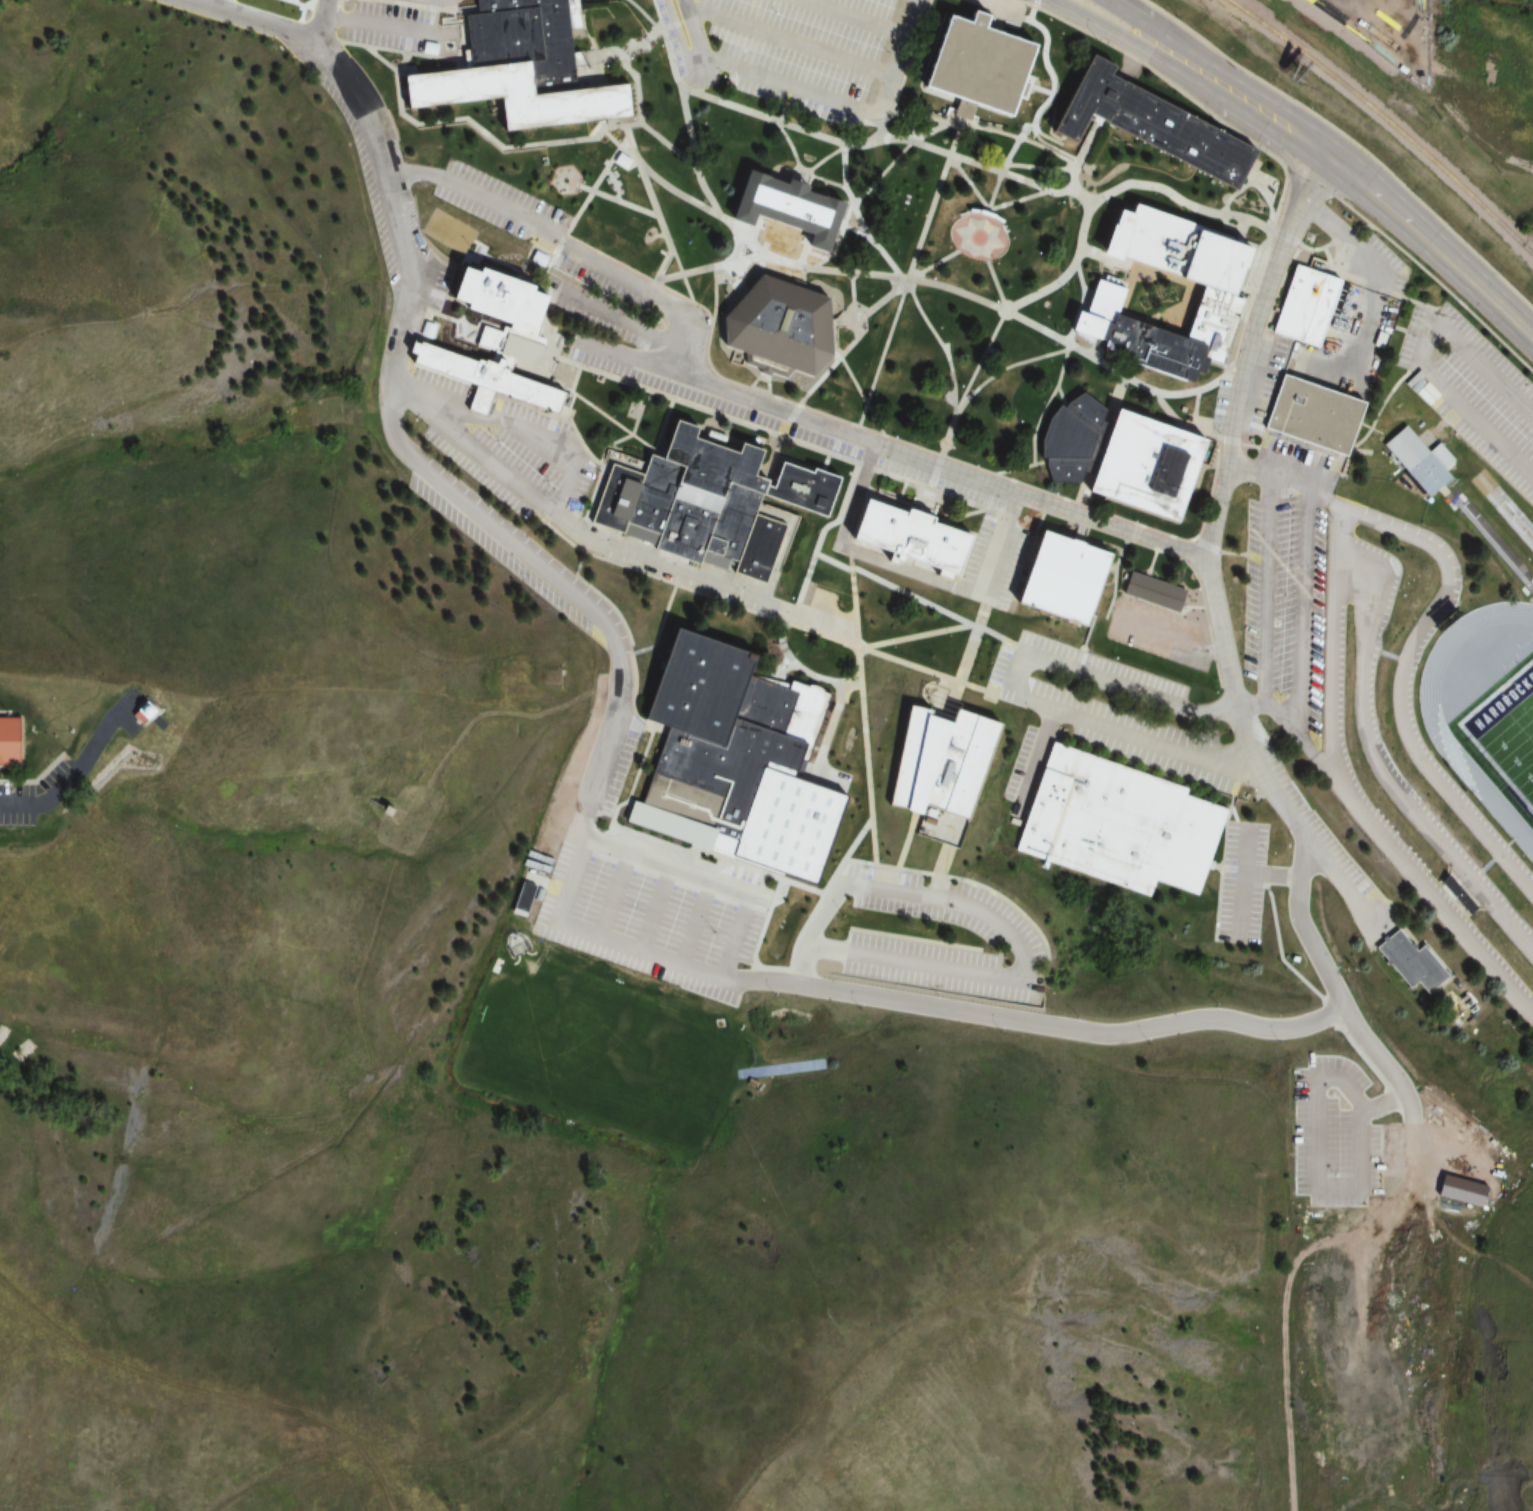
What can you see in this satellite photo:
parking lot: (923, 1)
road: (340, 2)
road: (301, 3)
road: (325, 4)
road: (426, 4)
road: (1033, 4)
road: (220, 5)
road: (303, 7)
road: (990, 7)
parking lot: (992, 7)
road: (1030, 13)
road: (643, 16)
road: (859, 16)
road: (252, 20)
road: (320, 22)
road: (390, 28)
road: (694, 28)
parking lot: (402, 32)
road: (674, 33)
road: (1176, 38)
building: (519, 40)
road: (791, 42)
parking lot: (803, 46)
road: (1139, 47)
road: (400, 51)
road: (382, 59)
building: (981, 63)
road: (701, 74)
road: (1053, 82)
road: (1036, 86)
building: (509, 96)
road: (637, 99)
road: (847, 106)
building: (1150, 121)
railway: (1383, 123)
road: (1007, 135)
road: (490, 136)
road: (960, 137)
road: (885, 139)
road: (1351, 139)
road: (1013, 142)
road: (1320, 152)
road: (1285, 162)
road: (798, 168)
road: (1013, 168)
road: (883, 173)
road: (804, 174)
road: (655, 178)
road: (595, 187)
road: (1109, 191)
road: (1304, 196)
road: (617, 202)
road: (652, 202)
building: (794, 203)
road: (985, 205)
parking lot: (501, 206)
road: (851, 214)
road: (928, 218)
road: (1278, 233)
road: (1334, 240)
road: (1292, 241)
road: (872, 243)
road: (706, 268)
road: (990, 271)
road: (872, 275)
road: (1374, 277)
road: (801, 279)
road: (1470, 280)
building: (1234, 289)
road: (714, 296)
building: (1310, 300)
road: (852, 310)
road: (683, 314)
road: (858, 315)
road: (864, 316)
building: (490, 317)
road: (620, 320)
building: (775, 328)
road: (882, 354)
road: (635, 358)
road: (979, 362)
road: (948, 364)
road: (1434, 367)
road: (1005, 369)
road: (847, 373)
road: (573, 379)
building: (476, 380)
road: (1195, 389)
road: (1055, 390)
parking lot: (1472, 391)
road: (593, 409)
road: (673, 411)
building: (1317, 411)
road: (788, 421)
parking lot: (807, 428)
road: (512, 430)
road: (915, 445)
parking lot: (503, 446)
building: (1126, 452)
road: (940, 458)
building: (1413, 461)
road: (424, 468)
road: (934, 476)
road: (1267, 480)
road: (927, 489)
road: (846, 499)
building: (709, 504)
road: (1071, 508)
building: (914, 534)
road: (589, 541)
road: (1204, 549)
road: (990, 563)
building: (1066, 576)
parking lot: (1288, 583)
road: (893, 586)
building: (1156, 591)
road: (1266, 593)
track: (1529, 595)
road: (755, 613)
road: (1302, 621)
road: (661, 628)
stadium: (1438, 631)
road: (937, 632)
road: (964, 662)
road: (1404, 665)
road: (780, 679)
road: (821, 682)
road: (348, 683)
road: (1012, 692)
road: (1248, 706)
building: (134, 714)
track: (1437, 732)
park: (1503, 736)
building: (7, 742)
road: (865, 755)
building: (742, 760)
building: (950, 760)
road: (46, 767)
road: (641, 768)
road: (1380, 768)
parking lot: (1179, 772)
road: (68, 779)
road: (16, 782)
parking lot: (610, 787)
road: (1347, 795)
parking lot: (16, 803)
building: (1115, 824)
road: (905, 841)
road: (845, 854)
road: (666, 867)
road: (1275, 874)
road: (1246, 880)
road: (1347, 882)
road: (610, 899)
building: (520, 901)
road: (649, 914)
road: (695, 929)
road: (814, 932)
parking lot: (1008, 936)
road: (735, 937)
building: (1418, 958)
road: (1023, 976)
road: (986, 1014)
building: (1315, 1021)
park: (609, 1046)
building: (1383, 1199)

